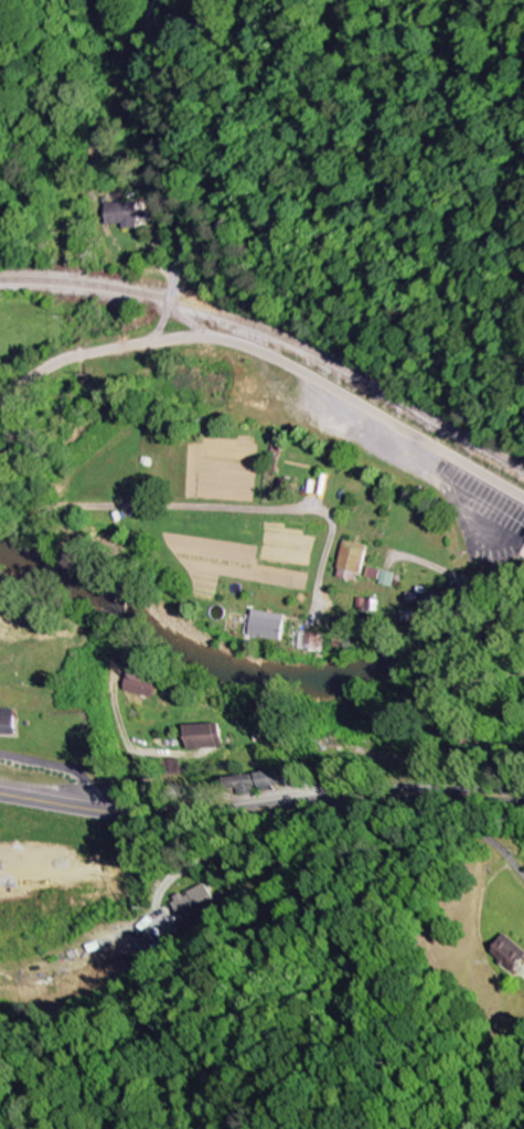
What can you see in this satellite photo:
road: (168, 173)
building: (121, 215)
railway: (274, 337)
road: (271, 356)
road: (157, 505)
building: (523, 540)
building: (357, 557)
road: (472, 561)
building: (391, 578)
building: (270, 627)
building: (314, 642)
building: (141, 685)
building: (9, 723)
building: (204, 736)
building: (266, 779)
road: (261, 808)
building: (194, 903)
road: (284, 914)
building: (505, 954)

